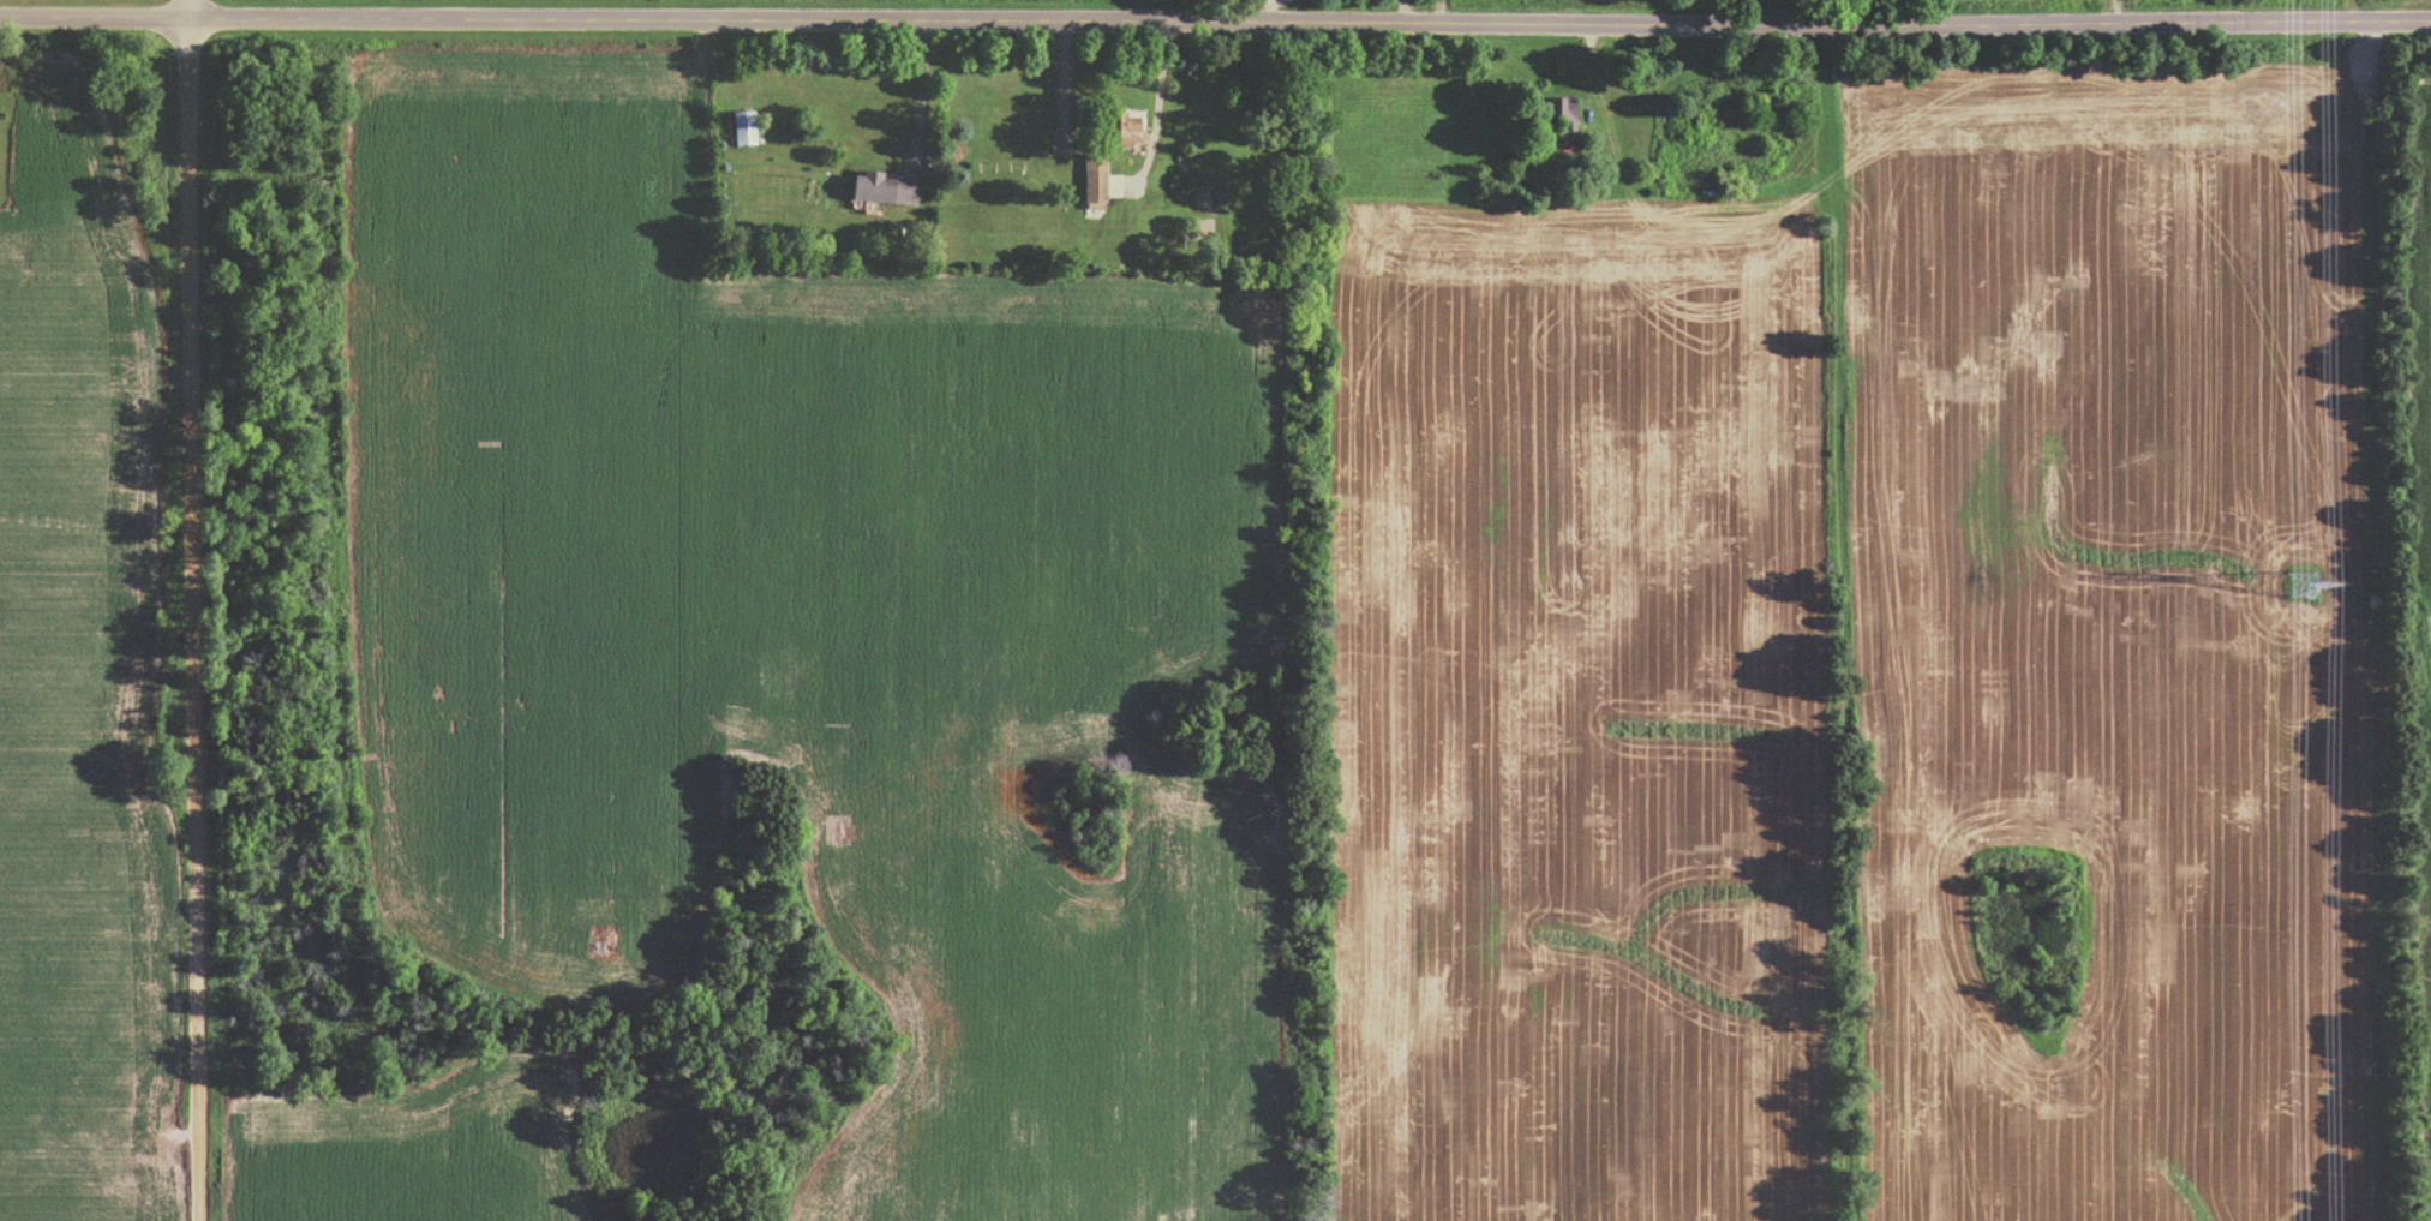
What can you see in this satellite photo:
road: (1861, 16)
road: (1215, 22)
road: (921, 88)
power tower: (2298, 587)
road: (199, 610)

